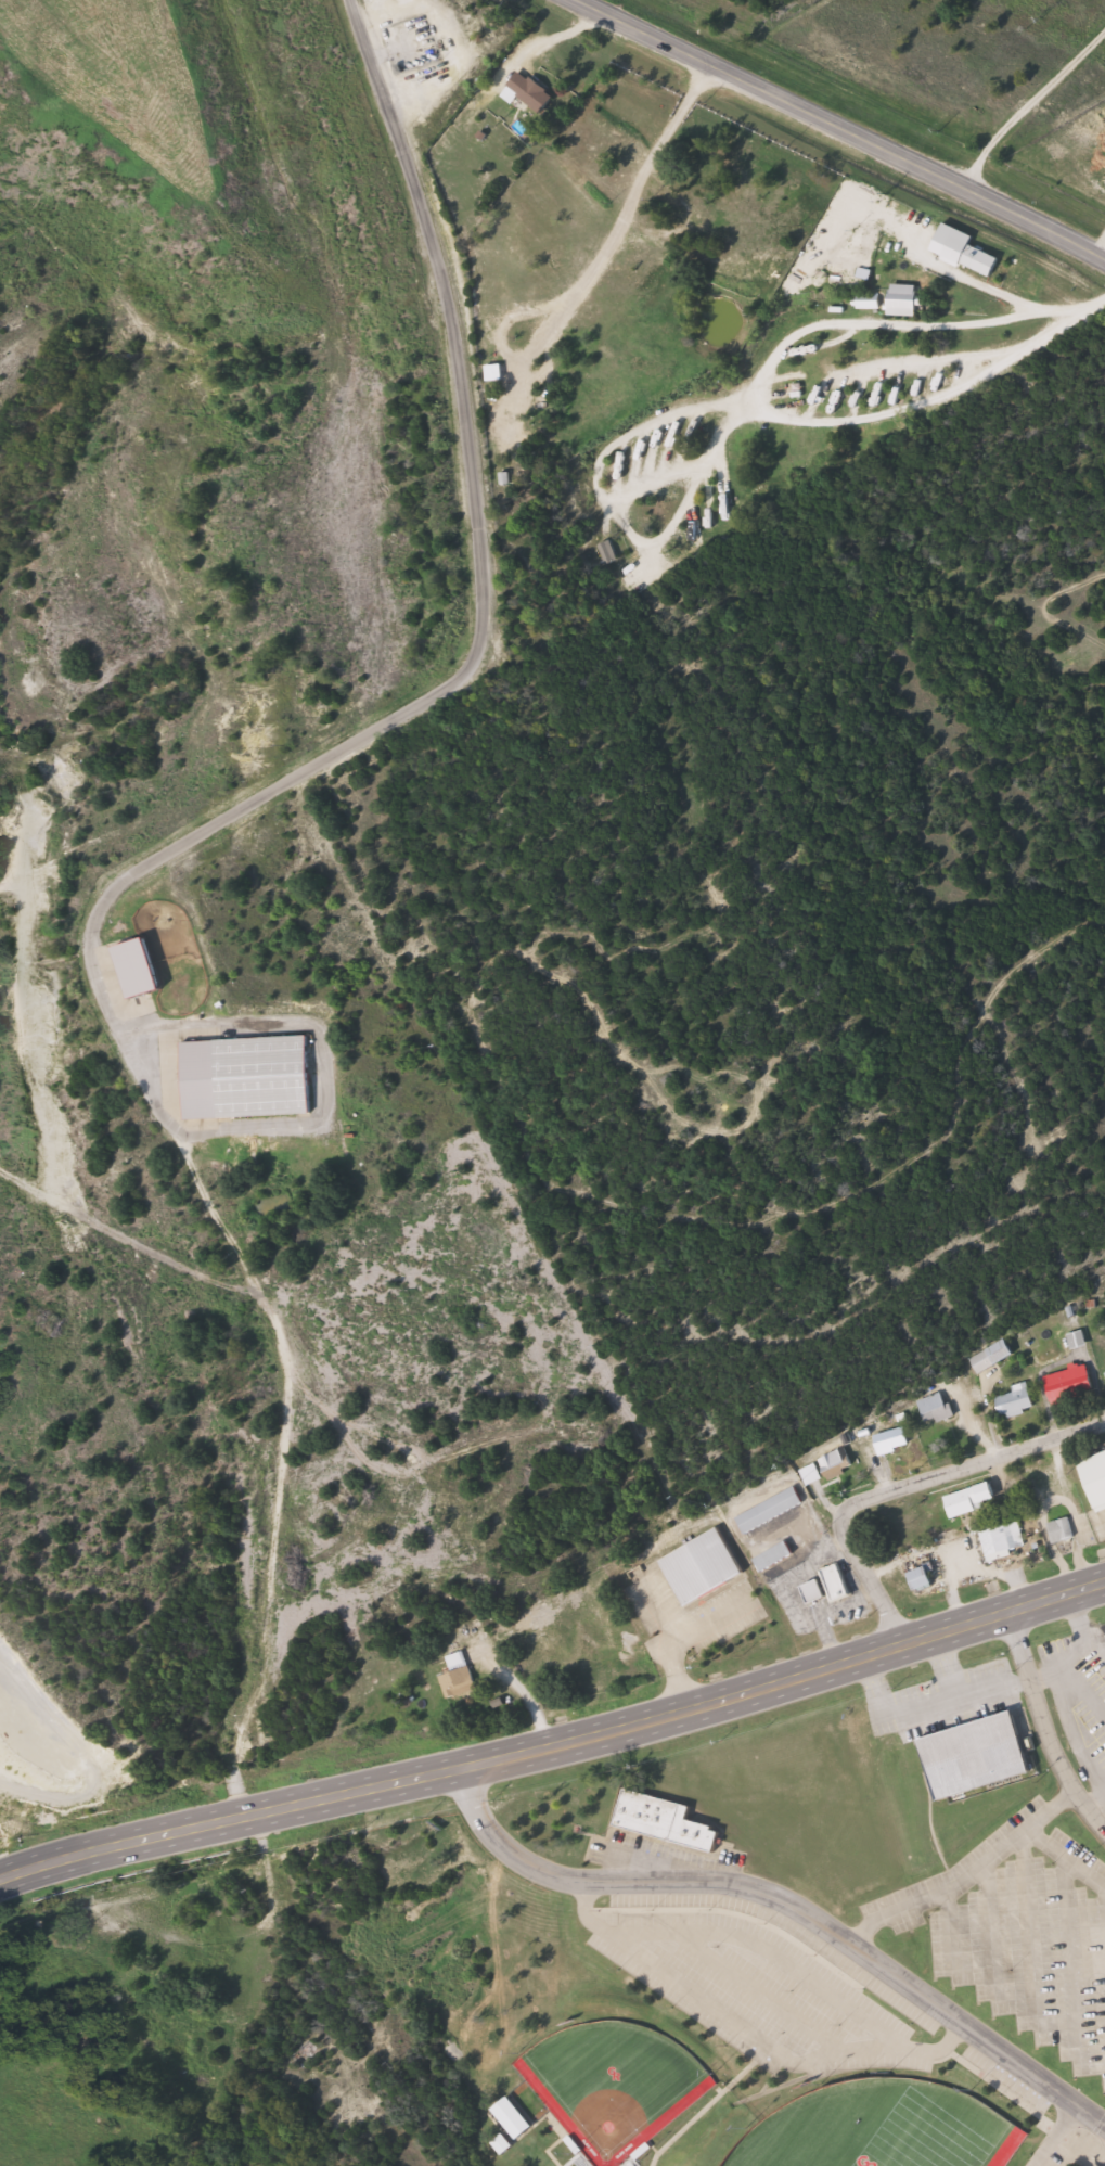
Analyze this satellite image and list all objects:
building: (530, 91)
road: (1028, 103)
road: (841, 128)
building: (985, 260)
building: (909, 300)
building: (871, 302)
road: (712, 304)
road: (1007, 313)
building: (497, 373)
building: (611, 552)
road: (163, 856)
building: (265, 1077)
building: (1079, 1341)
building: (993, 1357)
building: (1072, 1384)
building: (1018, 1402)
building: (939, 1409)
building: (895, 1440)
building: (838, 1465)
building: (1095, 1479)
road: (901, 1488)
building: (973, 1500)
building: (771, 1512)
building: (1063, 1531)
building: (1004, 1541)
building: (776, 1558)
building: (704, 1567)
building: (925, 1579)
building: (831, 1587)
road: (1001, 1615)
building: (460, 1677)
road: (1043, 1727)
building: (978, 1757)
road: (451, 1772)
building: (665, 1821)
road: (1063, 1851)
road: (960, 1868)
road: (786, 1905)
road: (1103, 1913)
road: (986, 1937)
road: (947, 1940)
road: (1024, 1940)
road: (1067, 1946)
building: (307, 2053)
park: (614, 2085)
park: (882, 2128)
road: (1056, 2137)

